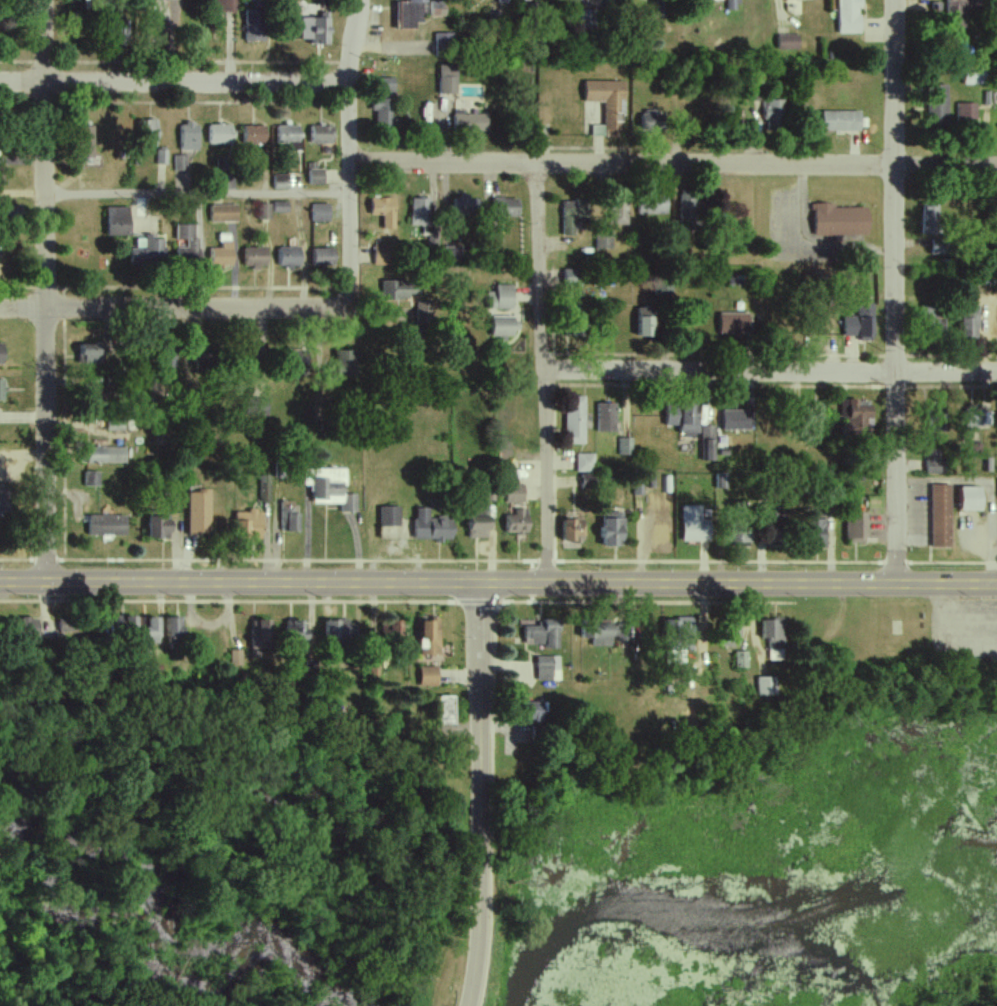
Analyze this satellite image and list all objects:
building: (503, 2)
building: (225, 5)
building: (438, 9)
building: (957, 13)
building: (409, 14)
building: (849, 16)
building: (587, 18)
building: (257, 25)
building: (317, 29)
building: (787, 42)
building: (444, 43)
building: (974, 77)
building: (447, 80)
road: (174, 83)
building: (386, 86)
building: (938, 105)
building: (607, 106)
building: (384, 112)
building: (966, 113)
building: (775, 115)
building: (651, 120)
building: (841, 121)
building: (470, 122)
building: (147, 133)
building: (220, 134)
building: (254, 134)
building: (321, 134)
building: (189, 136)
building: (289, 137)
building: (86, 142)
road: (350, 153)
building: (161, 157)
building: (179, 162)
road: (674, 164)
building: (316, 177)
building: (281, 182)
road: (23, 193)
road: (199, 194)
building: (653, 204)
building: (280, 206)
building: (505, 207)
building: (689, 207)
building: (464, 208)
building: (263, 211)
building: (384, 211)
building: (223, 213)
building: (320, 213)
building: (618, 213)
building: (572, 215)
building: (423, 216)
building: (930, 219)
building: (840, 220)
building: (118, 221)
building: (603, 243)
building: (187, 244)
building: (938, 246)
building: (383, 252)
building: (149, 253)
building: (454, 253)
building: (222, 254)
building: (255, 257)
building: (289, 257)
building: (323, 257)
building: (572, 277)
road: (47, 288)
building: (397, 290)
road: (895, 290)
building: (500, 298)
road: (174, 308)
building: (422, 312)
building: (933, 321)
building: (644, 322)
building: (734, 323)
building: (861, 323)
building: (970, 325)
building: (502, 326)
building: (1, 352)
building: (90, 354)
building: (344, 364)
road: (547, 370)
road: (772, 371)
building: (2, 389)
building: (256, 407)
building: (818, 409)
building: (857, 416)
building: (605, 418)
building: (682, 419)
building: (977, 419)
building: (574, 420)
building: (736, 420)
building: (707, 443)
building: (624, 447)
building: (106, 455)
building: (933, 462)
building: (584, 463)
building: (92, 479)
building: (585, 482)
building: (263, 488)
building: (328, 488)
building: (514, 494)
building: (971, 498)
building: (199, 512)
building: (288, 516)
building: (389, 516)
building: (940, 516)
building: (516, 523)
building: (107, 525)
building: (248, 525)
building: (694, 525)
building: (431, 527)
building: (478, 527)
building: (159, 528)
building: (856, 528)
building: (612, 530)
building: (571, 531)
building: (817, 534)
building: (741, 537)
road: (498, 562)
road: (498, 579)
road: (240, 605)
road: (639, 606)
parking lot: (963, 616)
building: (125, 623)
road: (963, 624)
building: (68, 626)
building: (25, 629)
building: (678, 629)
building: (396, 630)
building: (152, 631)
building: (340, 631)
building: (174, 632)
building: (296, 632)
building: (542, 634)
building: (260, 635)
building: (602, 635)
building: (430, 638)
building: (772, 638)
road: (929, 649)
building: (234, 658)
building: (739, 660)
building: (547, 668)
building: (428, 676)
building: (763, 686)
building: (446, 711)
building: (531, 711)
road: (480, 792)
park: (959, 986)
road: (467, 1005)

